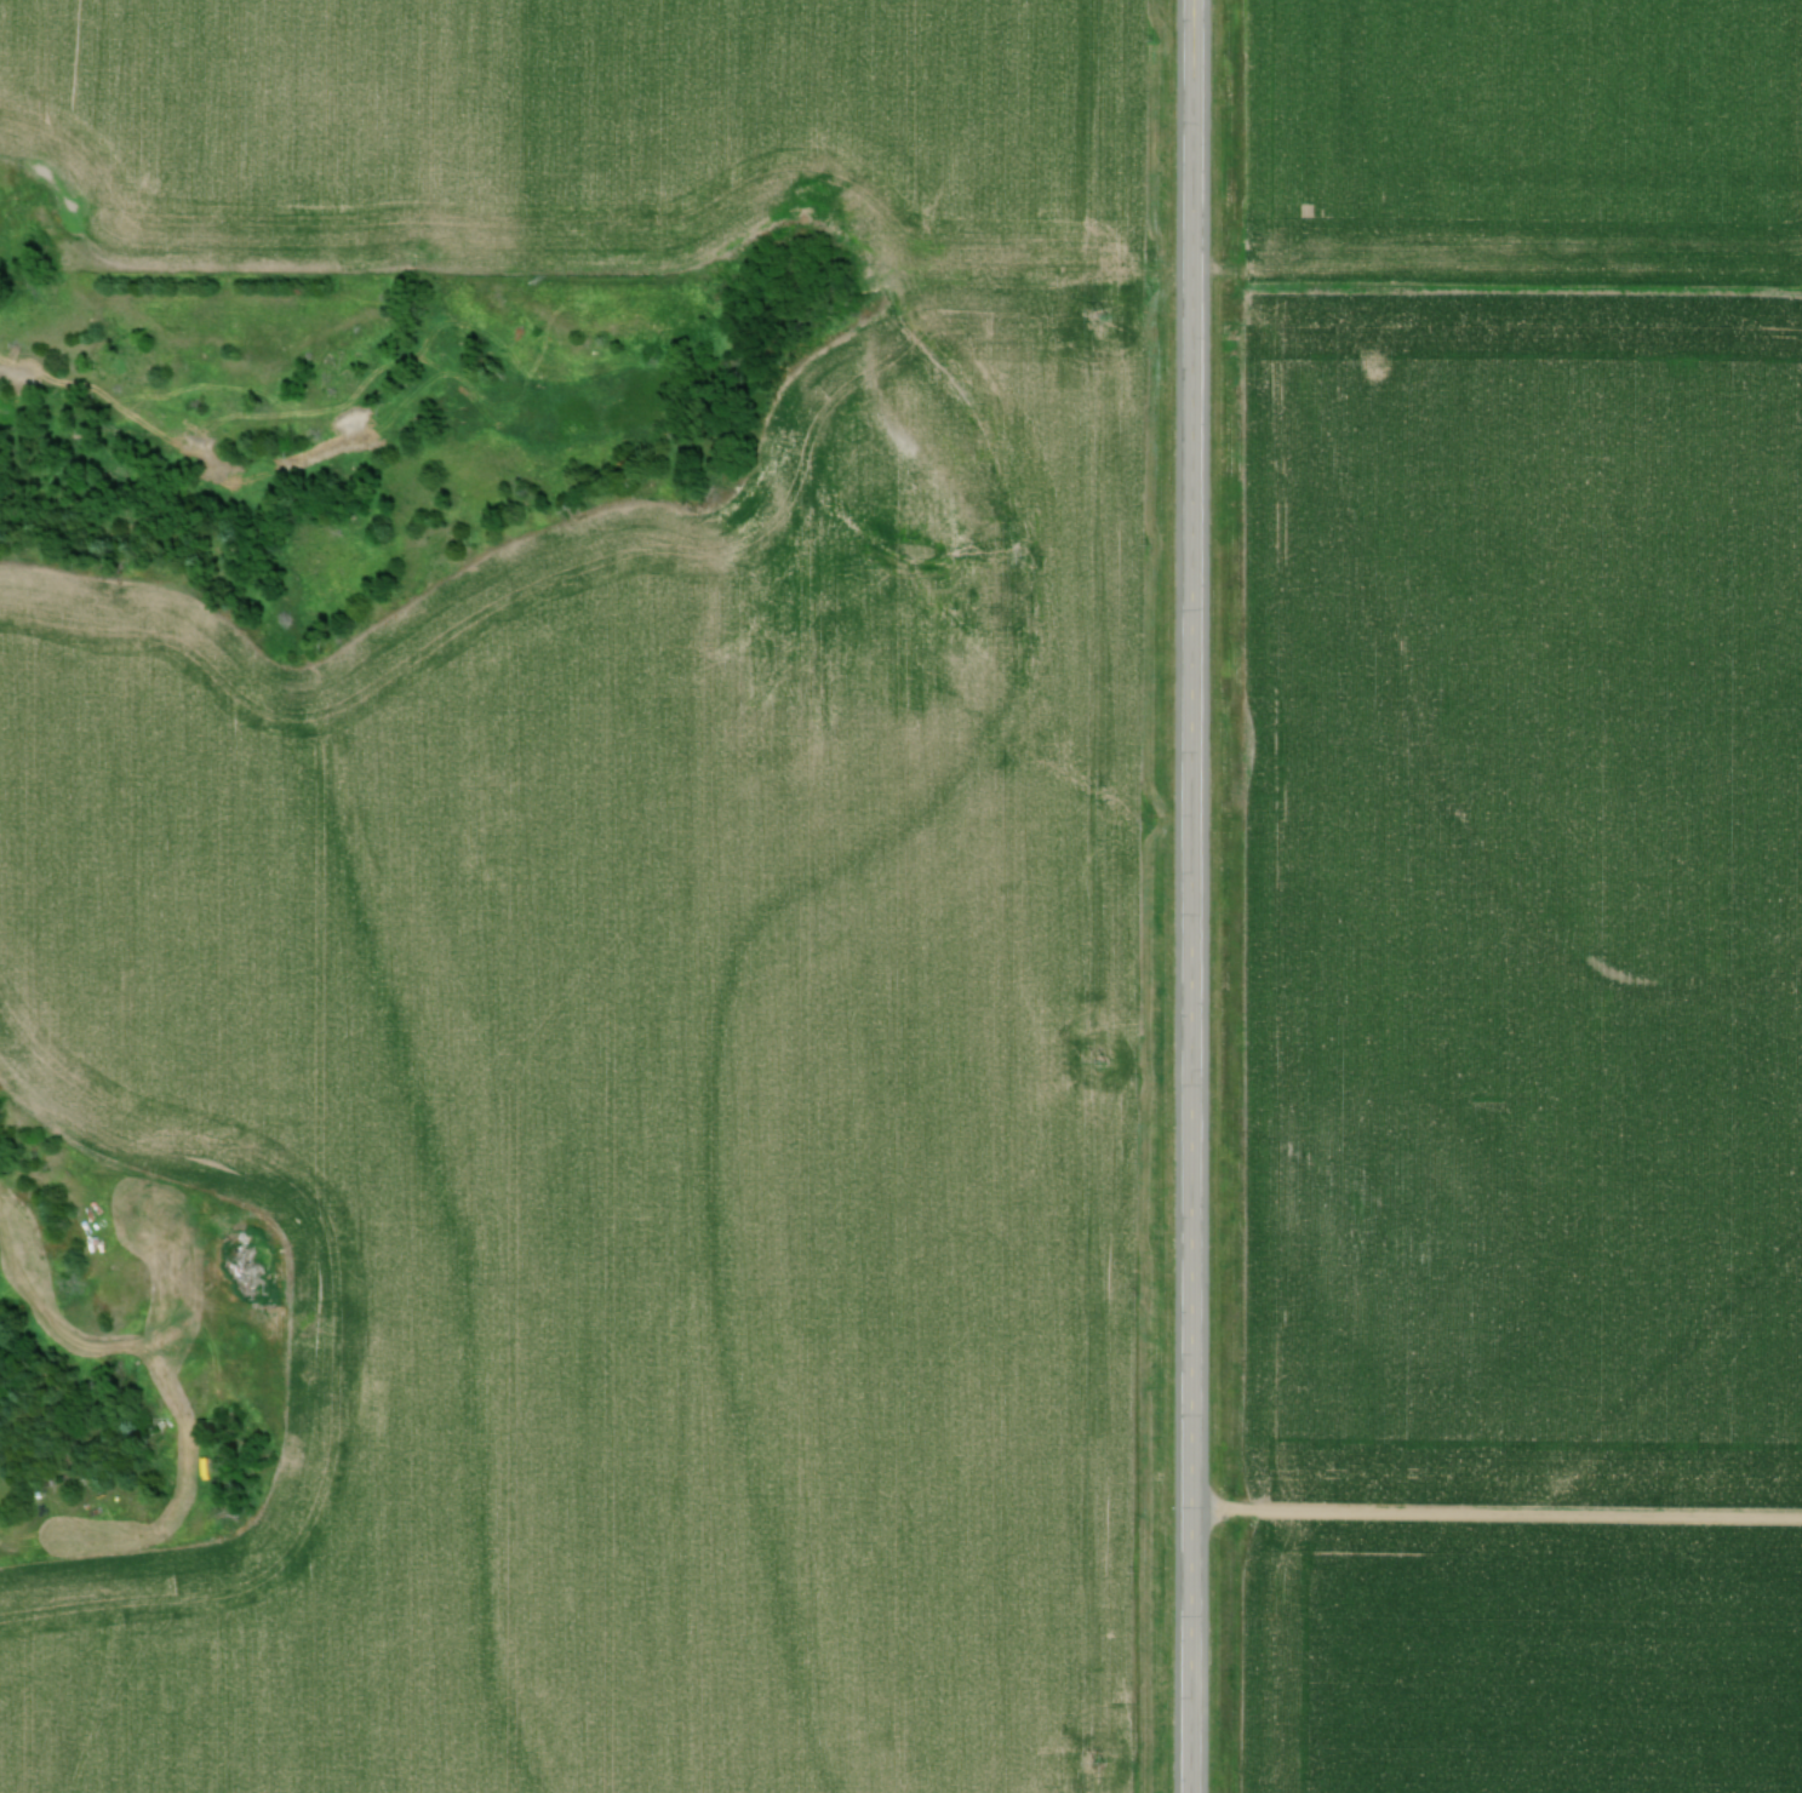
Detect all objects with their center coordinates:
road: (1498, 276)
road: (1194, 895)
road: (1497, 1513)

